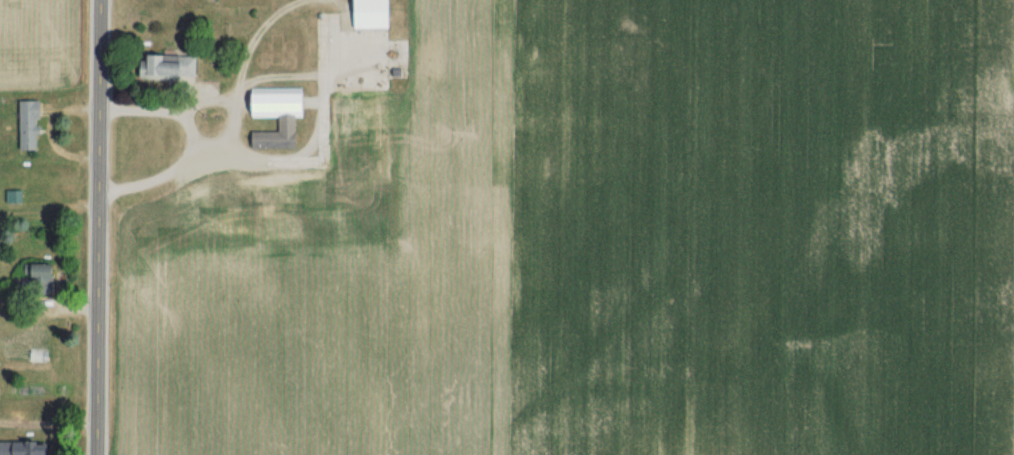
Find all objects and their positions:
building: (376, 13)
building: (178, 63)
building: (282, 113)
building: (373, 116)
building: (34, 123)
road: (188, 141)
building: (232, 182)
road: (96, 227)
building: (44, 275)
building: (37, 336)
building: (27, 447)

